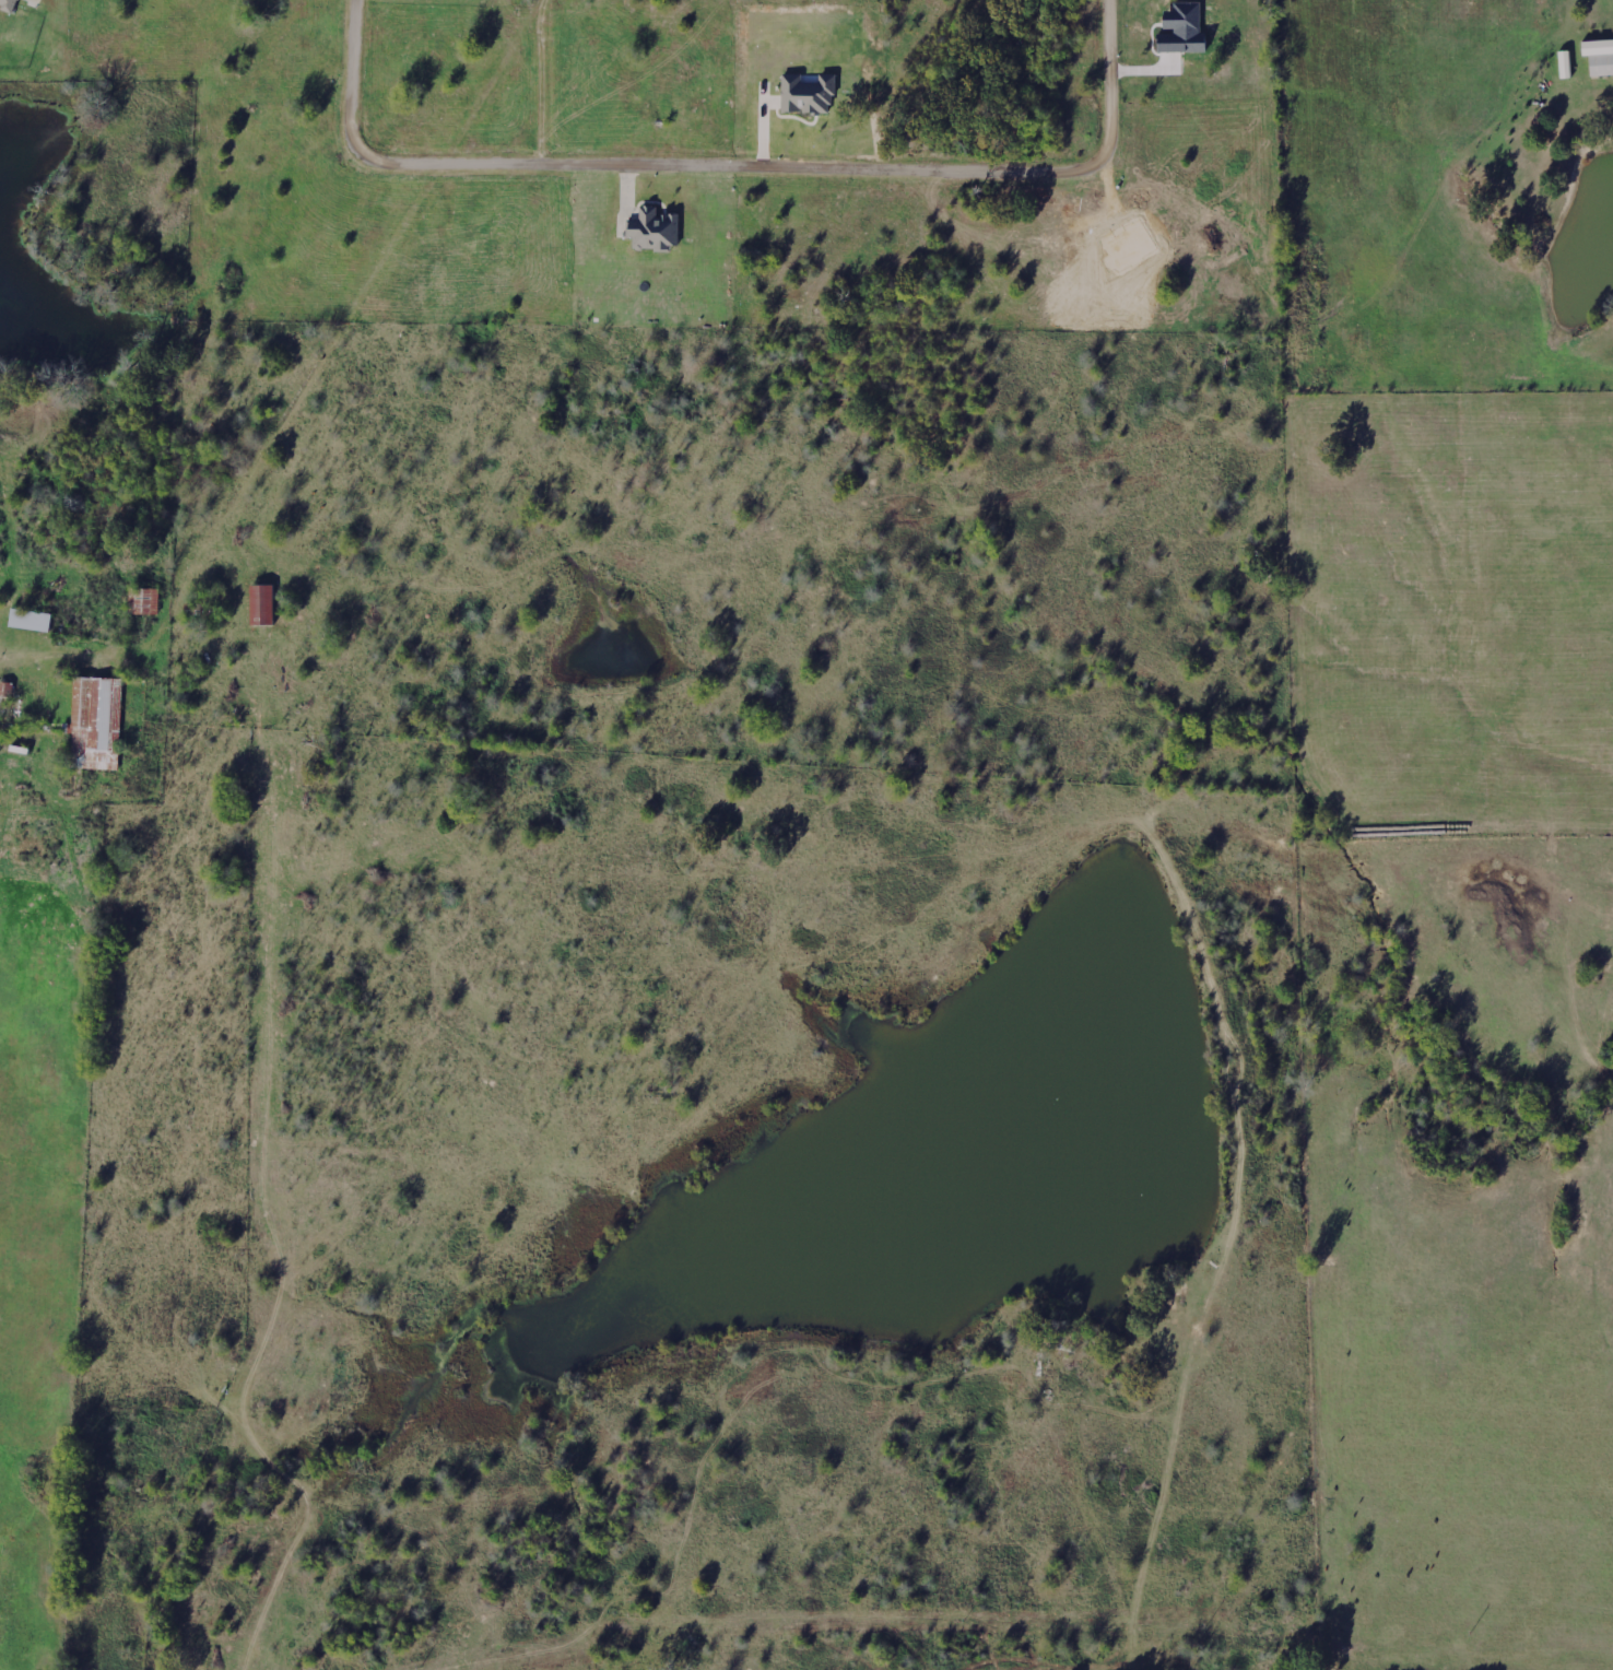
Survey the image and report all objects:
building: (1599, 56)
road: (1414, 62)
building: (1566, 63)
building: (806, 94)
road: (731, 165)
building: (654, 230)
road: (192, 542)
road: (140, 561)
building: (144, 600)
building: (262, 603)
building: (31, 619)
dam: (954, 1160)
road: (1074, 1496)

